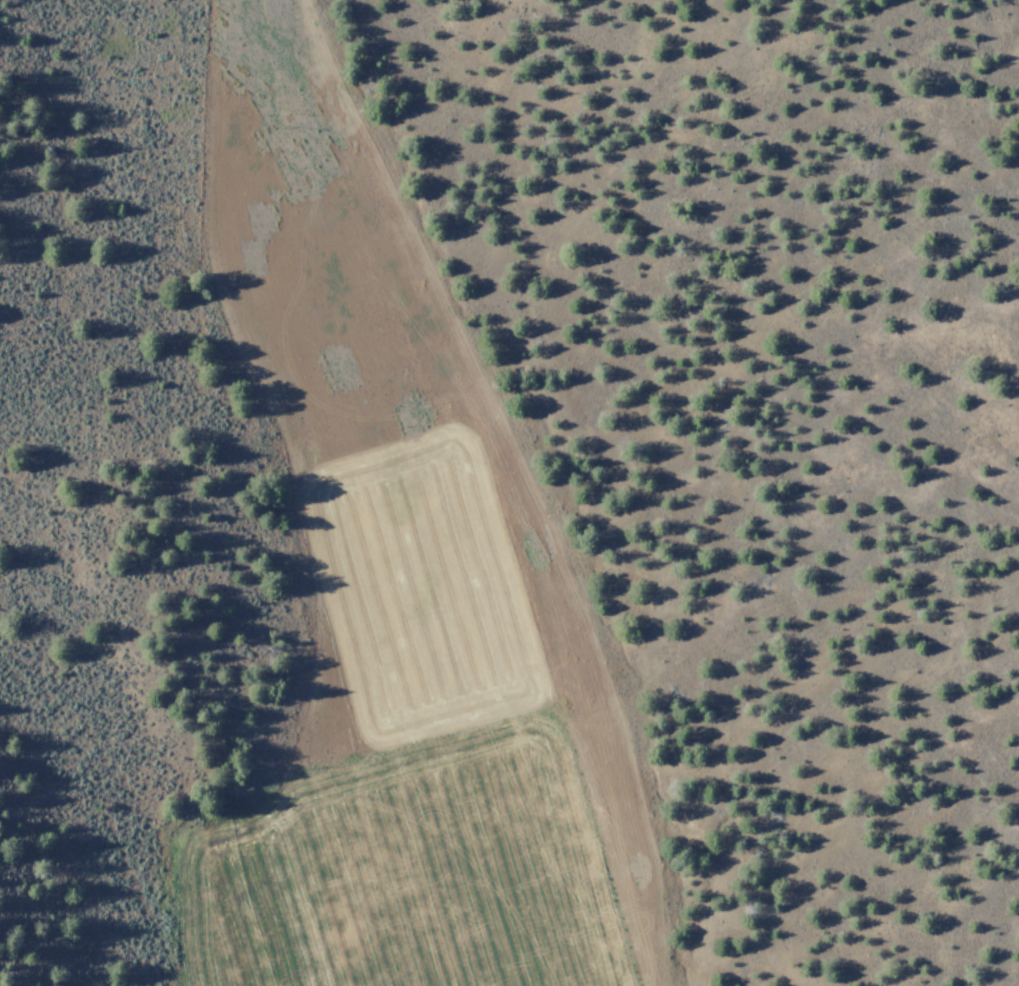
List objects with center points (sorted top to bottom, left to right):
road: (653, 928)

